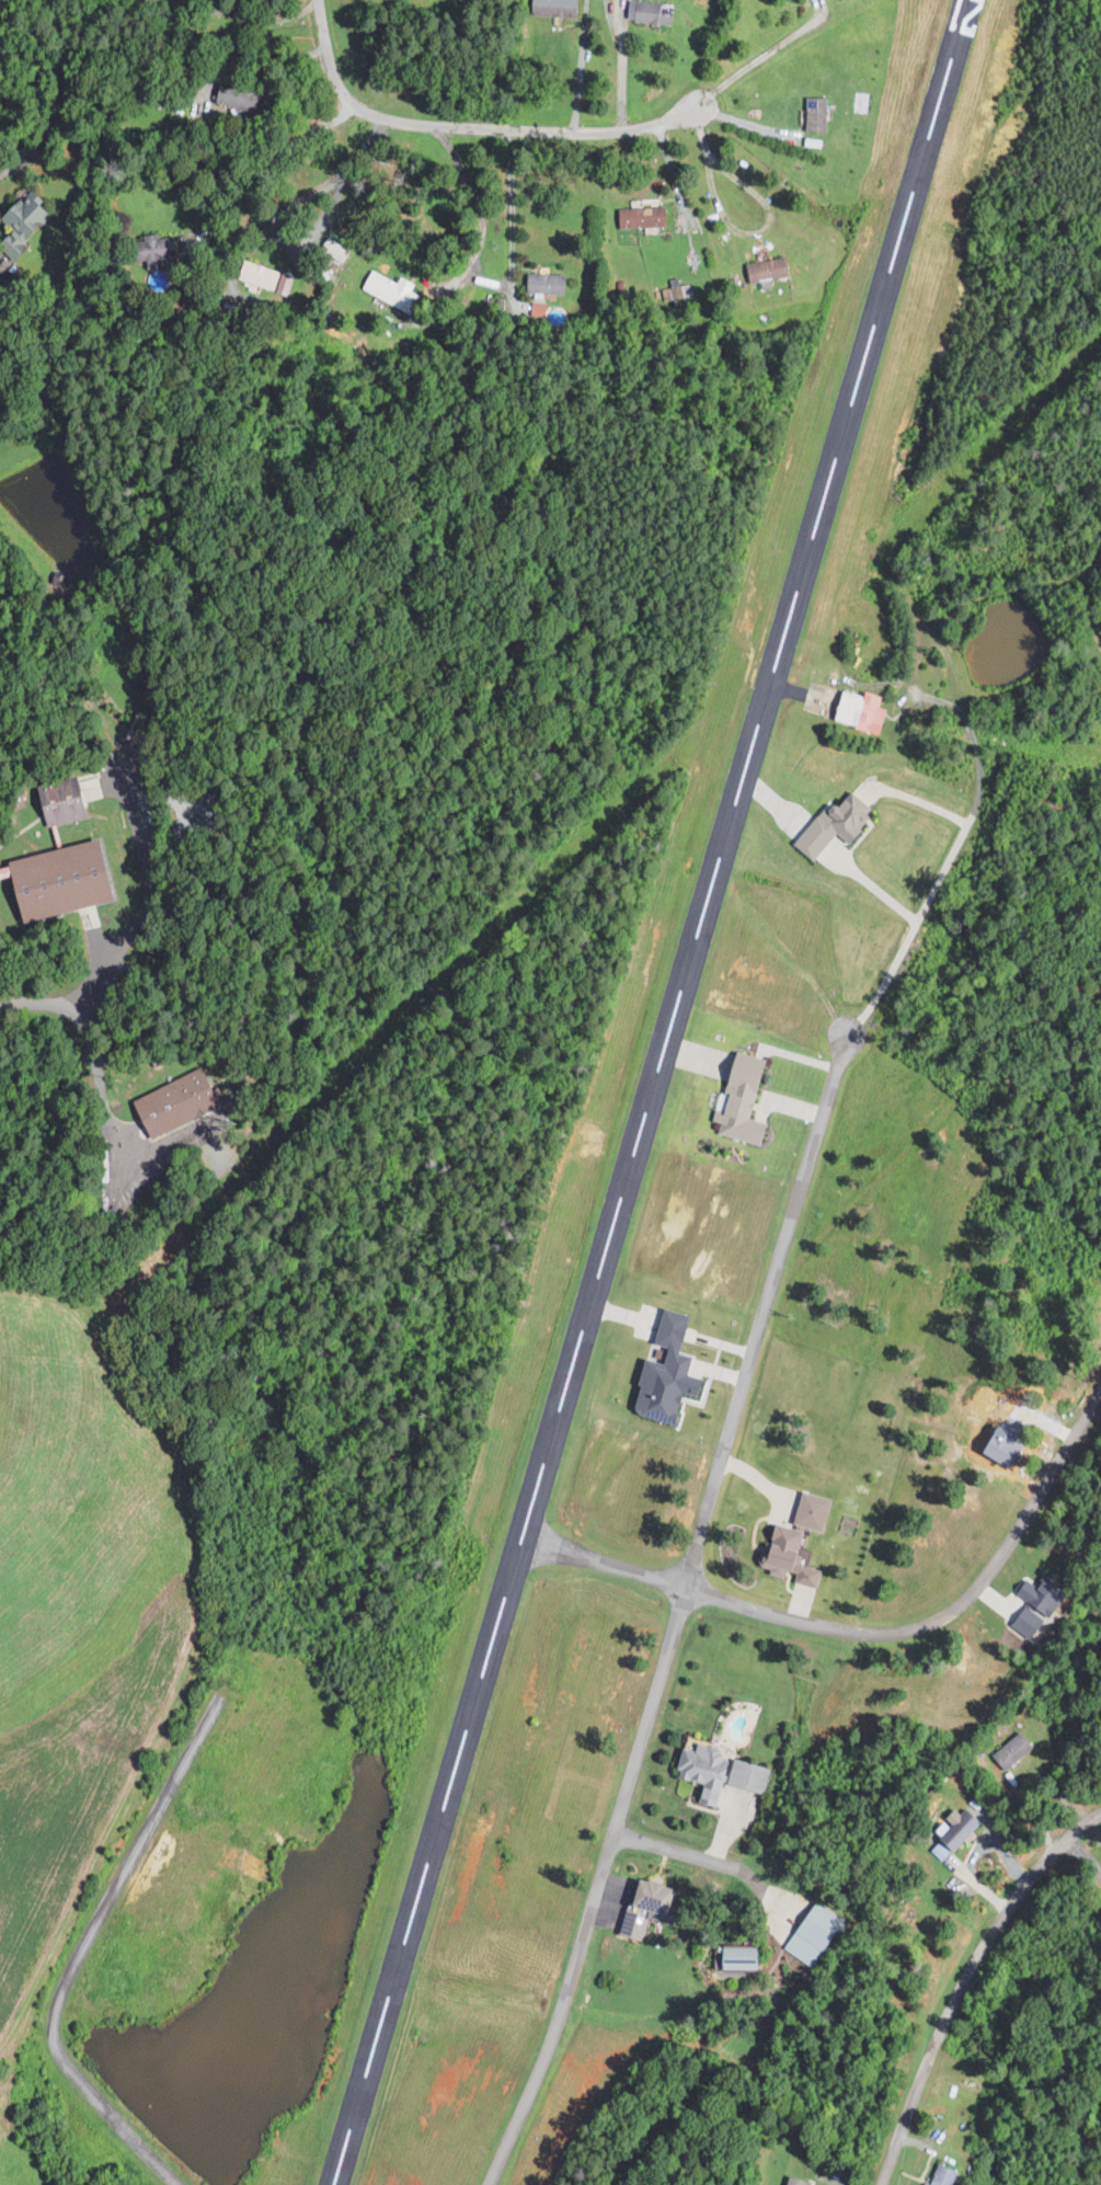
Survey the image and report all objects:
building: (559, 8)
building: (654, 11)
road: (762, 56)
road: (621, 67)
road: (581, 70)
building: (233, 94)
road: (51, 98)
building: (819, 113)
road: (471, 126)
road: (272, 167)
road: (340, 180)
road: (512, 209)
building: (647, 216)
road: (736, 232)
road: (470, 234)
building: (770, 268)
building: (263, 274)
building: (549, 283)
building: (393, 289)
building: (673, 290)
road: (986, 592)
road: (1081, 609)
building: (863, 710)
road: (973, 740)
building: (73, 792)
building: (839, 823)
building: (73, 871)
road: (934, 884)
road: (873, 886)
road: (125, 929)
road: (100, 935)
airport runway: (654, 1092)
building: (181, 1099)
building: (747, 1099)
road: (106, 1122)
parking lot: (141, 1186)
building: (672, 1370)
building: (1009, 1446)
building: (816, 1510)
building: (795, 1554)
building: (1046, 1594)
road: (676, 1613)
building: (1031, 1621)
road: (875, 1632)
building: (1017, 1750)
building: (723, 1772)
building: (964, 1827)
building: (941, 1851)
road: (695, 1855)
building: (650, 1910)
building: (814, 1933)
road: (79, 1954)
building: (746, 1957)
road: (982, 1989)
building: (945, 2174)
building: (800, 2181)

